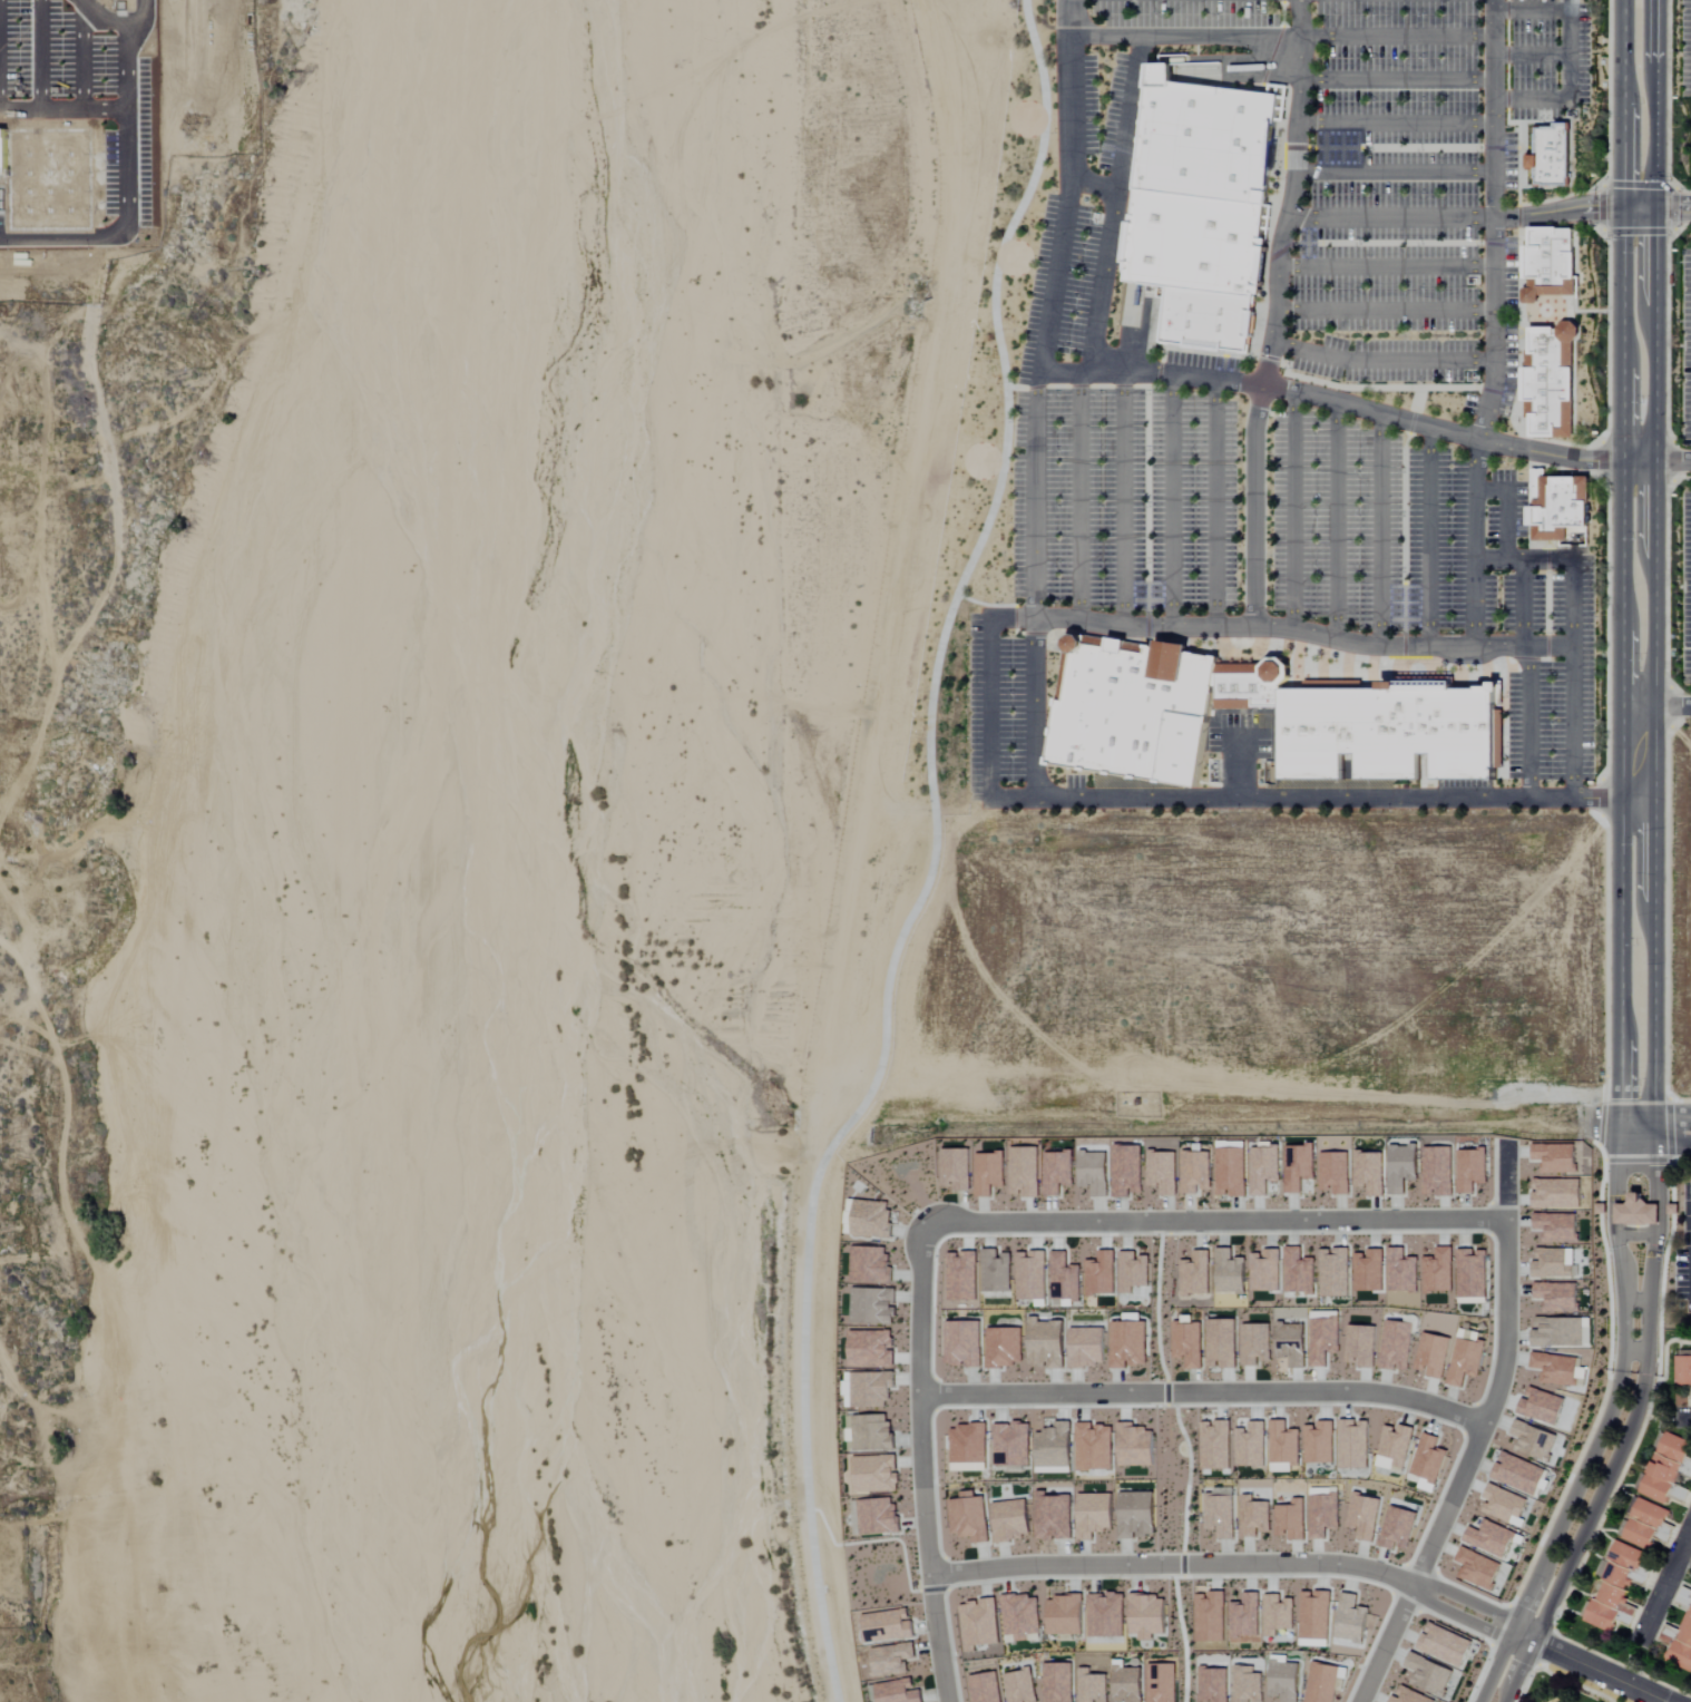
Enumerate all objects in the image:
road: (1282, 0)
road: (1505, 0)
road: (1282, 14)
road: (1299, 18)
road: (1397, 37)
parking lot: (1685, 48)
road: (1531, 53)
road: (1505, 55)
road: (1271, 56)
road: (1568, 56)
road: (1260, 65)
road: (1397, 79)
road: (1666, 94)
road: (1286, 102)
road: (1494, 109)
road: (1035, 121)
road: (1397, 123)
road: (1299, 133)
building: (1202, 134)
road: (1606, 136)
road: (1293, 147)
road: (1394, 147)
road: (1516, 153)
road: (1570, 154)
building: (1550, 155)
road: (1120, 169)
road: (1395, 173)
road: (1094, 184)
road: (1635, 184)
road: (1680, 190)
road: (1277, 204)
road: (1591, 206)
traffic signals: (1636, 206)
road: (1601, 207)
road: (1671, 208)
road: (1390, 217)
road: (1517, 217)
road: (1680, 226)
road: (1635, 231)
road: (1386, 243)
building: (1191, 246)
road: (1278, 252)
road: (1007, 256)
building: (1547, 263)
road: (1386, 266)
road: (1386, 310)
road: (1562, 312)
building: (1208, 319)
road: (1148, 327)
parking lot: (1687, 346)
road: (1255, 354)
road: (1249, 358)
road: (1269, 358)
road: (1382, 360)
road: (1159, 372)
road: (1150, 373)
building: (1550, 380)
road: (1078, 385)
road: (1140, 385)
road: (1153, 385)
road: (1016, 387)
road: (1371, 388)
road: (1311, 395)
road: (1035, 398)
road: (1417, 400)
parking lot: (1284, 418)
road: (1411, 422)
road: (1482, 432)
road: (1561, 443)
road: (1639, 462)
road: (1685, 462)
road: (991, 463)
road: (1528, 469)
road: (1677, 478)
road: (1147, 483)
road: (1079, 496)
road: (1123, 500)
road: (1172, 500)
road: (1214, 502)
road: (1404, 508)
building: (1558, 508)
road: (1506, 509)
road: (1292, 510)
road: (1336, 521)
road: (1380, 530)
road: (1429, 537)
road: (1553, 546)
road: (1567, 559)
road: (1636, 565)
parking lot: (1685, 588)
road: (984, 604)
road: (1522, 604)
road: (1147, 610)
road: (1547, 619)
road: (1404, 622)
road: (1143, 627)
road: (1016, 633)
road: (1606, 637)
road: (1465, 647)
road: (1330, 652)
road: (1508, 662)
road: (1416, 668)
road: (1665, 676)
road: (989, 687)
road: (1573, 700)
road: (1663, 705)
building: (1148, 707)
road: (1677, 723)
building: (1392, 732)
road: (1238, 733)
road: (1294, 798)
road: (1617, 798)
road: (1601, 799)
river: (505, 850)
road: (934, 853)
road: (1605, 960)
road: (1640, 1103)
road: (1675, 1129)
road: (1605, 1131)
road: (1662, 1131)
building: (1556, 1157)
road: (1683, 1157)
road: (1641, 1158)
building: (1298, 1167)
building: (1402, 1167)
building: (1264, 1168)
building: (956, 1170)
building: (1126, 1171)
building: (1472, 1171)
building: (1025, 1172)
building: (1231, 1172)
building: (1437, 1172)
building: (988, 1173)
building: (1057, 1173)
building: (1163, 1173)
building: (1196, 1173)
building: (1335, 1173)
building: (1369, 1173)
building: (1094, 1174)
road: (1671, 1178)
building: (1557, 1194)
building: (1600, 1207)
building: (1672, 1207)
building: (1635, 1211)
building: (871, 1220)
road: (1203, 1220)
building: (1557, 1226)
building: (869, 1265)
building: (1265, 1271)
building: (1368, 1271)
building: (1401, 1271)
building: (1570, 1271)
building: (995, 1272)
building: (1133, 1272)
building: (1298, 1272)
building: (1438, 1272)
building: (1230, 1273)
building: (1333, 1273)
building: (1195, 1274)
building: (1101, 1275)
building: (961, 1276)
building: (1030, 1276)
road: (1583, 1276)
building: (1064, 1279)
building: (1557, 1297)
building: (872, 1307)
building: (1556, 1333)
building: (1323, 1341)
building: (962, 1344)
building: (1046, 1344)
building: (1128, 1344)
building: (1189, 1344)
building: (1221, 1344)
building: (1255, 1344)
building: (1291, 1346)
building: (1361, 1347)
building: (1397, 1347)
building: (1004, 1348)
building: (1087, 1348)
building: (871, 1349)
road: (1635, 1354)
building: (1433, 1356)
building: (1466, 1358)
building: (1556, 1369)
building: (870, 1390)
road: (1204, 1390)
road: (1653, 1391)
building: (1542, 1407)
road: (1685, 1419)
road: (1631, 1426)
road: (1605, 1427)
building: (872, 1434)
building: (1534, 1441)
building: (1319, 1444)
building: (968, 1445)
building: (1011, 1445)
building: (1353, 1445)
building: (1135, 1446)
building: (1215, 1446)
building: (1250, 1446)
building: (1055, 1447)
building: (1283, 1447)
building: (1094, 1448)
building: (1395, 1448)
building: (1429, 1459)
building: (1669, 1470)
building: (876, 1474)
building: (1518, 1474)
building: (1504, 1504)
road: (72, 1509)
building: (1094, 1515)
building: (1136, 1515)
building: (1220, 1516)
building: (1323, 1516)
building: (1363, 1516)
building: (877, 1517)
building: (1053, 1517)
building: (1253, 1517)
building: (969, 1518)
building: (1011, 1520)
building: (1291, 1520)
building: (1649, 1526)
building: (1398, 1528)
building: (1490, 1539)
road: (1687, 1551)
road: (1226, 1566)
building: (1477, 1569)
road: (1664, 1586)
road: (1415, 1587)
building: (1615, 1589)
road: (932, 1605)
building: (1105, 1614)
building: (1278, 1614)
building: (1065, 1615)
building: (1147, 1615)
building: (1210, 1615)
building: (1245, 1615)
building: (1314, 1615)
building: (1351, 1618)
building: (979, 1623)
building: (886, 1625)
building: (1680, 1635)
building: (1445, 1644)
building: (891, 1659)
road: (1590, 1667)
building: (1428, 1674)
building: (1284, 1681)
building: (1058, 1682)
building: (1162, 1682)
building: (1325, 1682)
building: (1127, 1684)
building: (1213, 1684)
building: (1248, 1684)
building: (1020, 1686)
building: (1092, 1686)
building: (986, 1688)
building: (897, 1691)
building: (1409, 1695)

